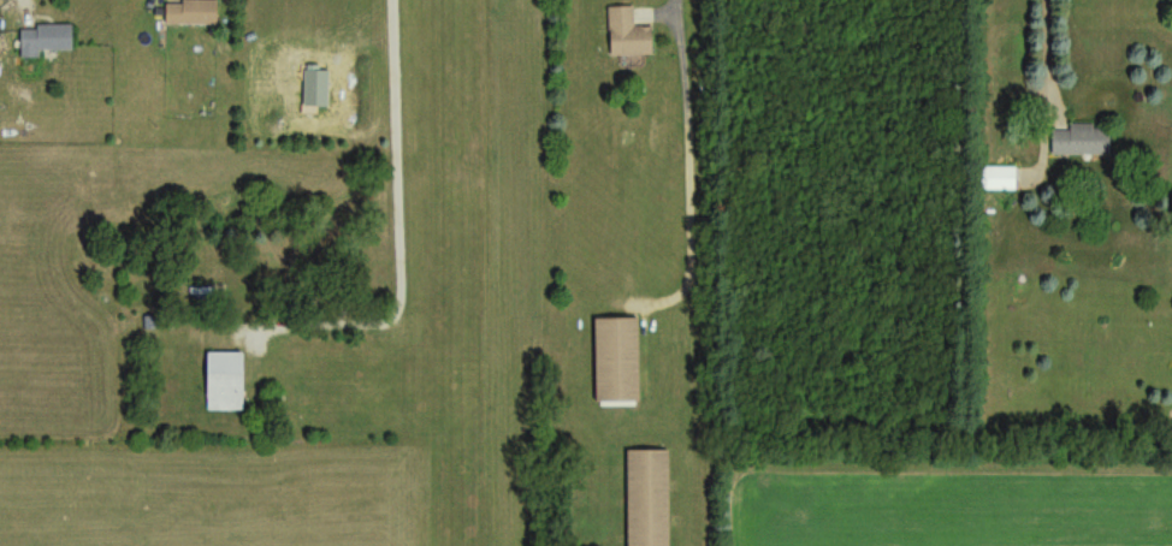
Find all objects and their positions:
building: (190, 14)
building: (626, 36)
building: (43, 41)
road: (1049, 90)
building: (1082, 143)
road: (691, 167)
building: (998, 179)
road: (392, 219)
airport runway: (458, 273)
building: (626, 363)
building: (224, 384)
building: (657, 499)

